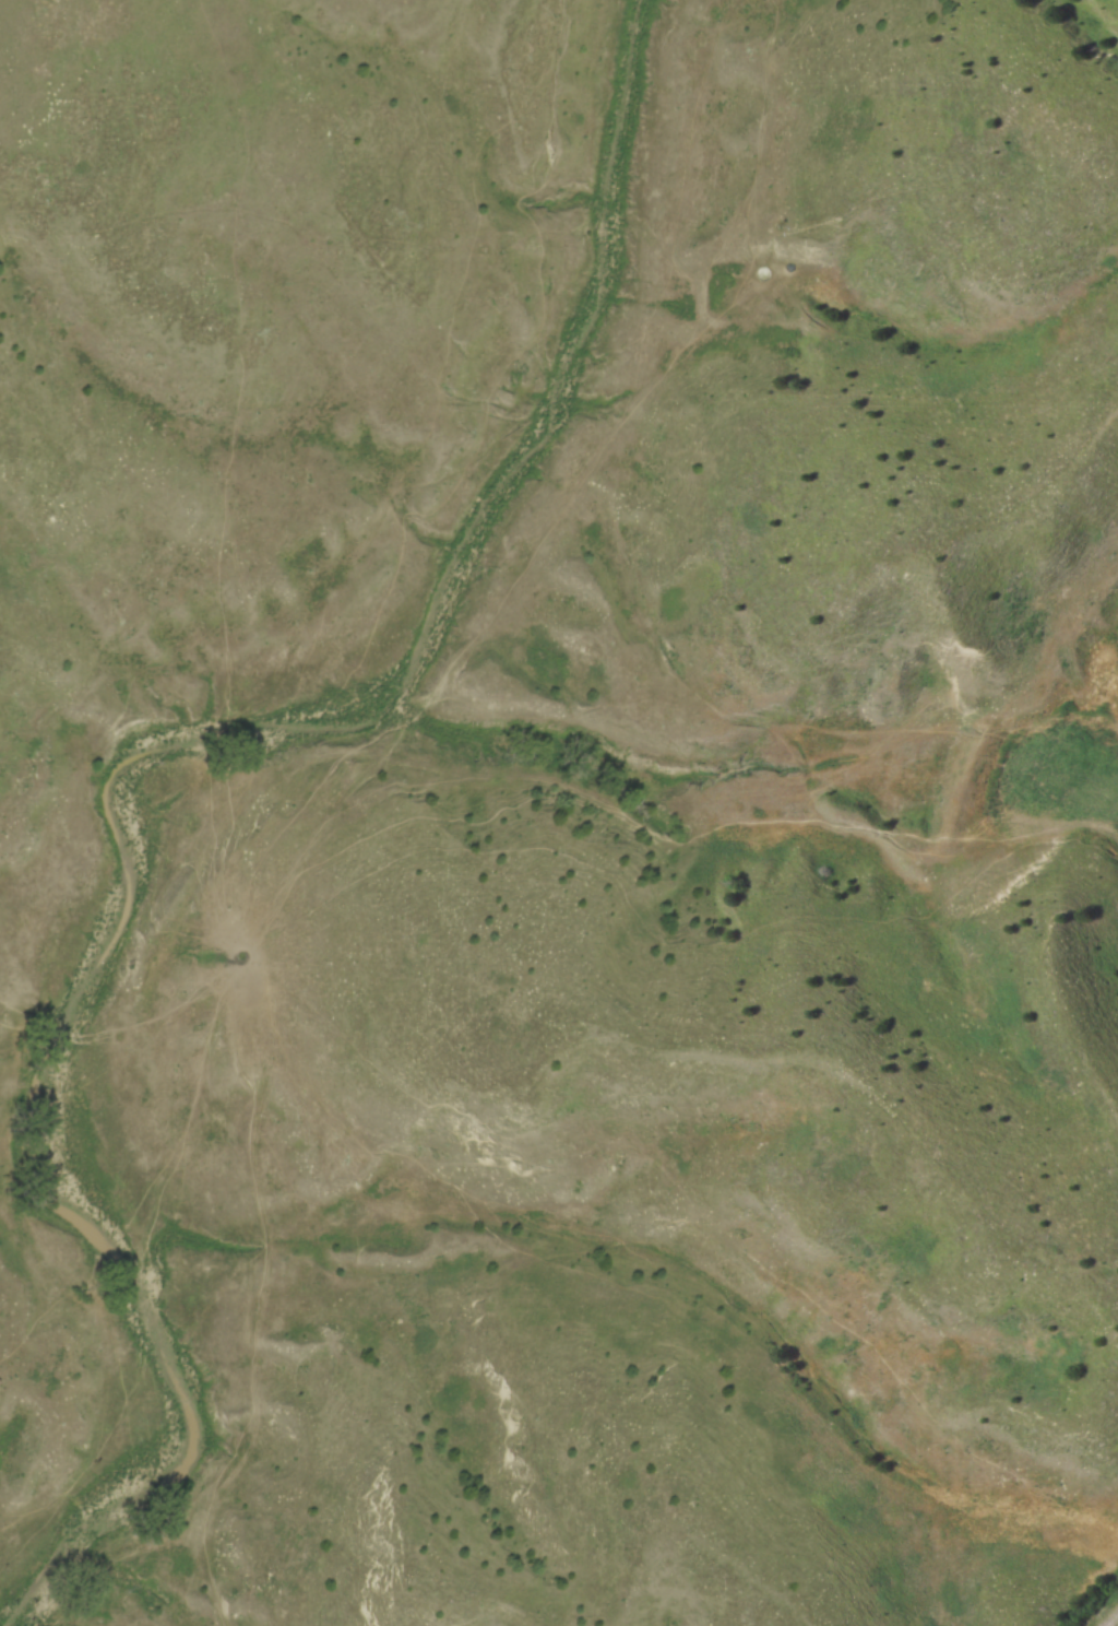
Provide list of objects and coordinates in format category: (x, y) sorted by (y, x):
railway: (1116, 1624)

